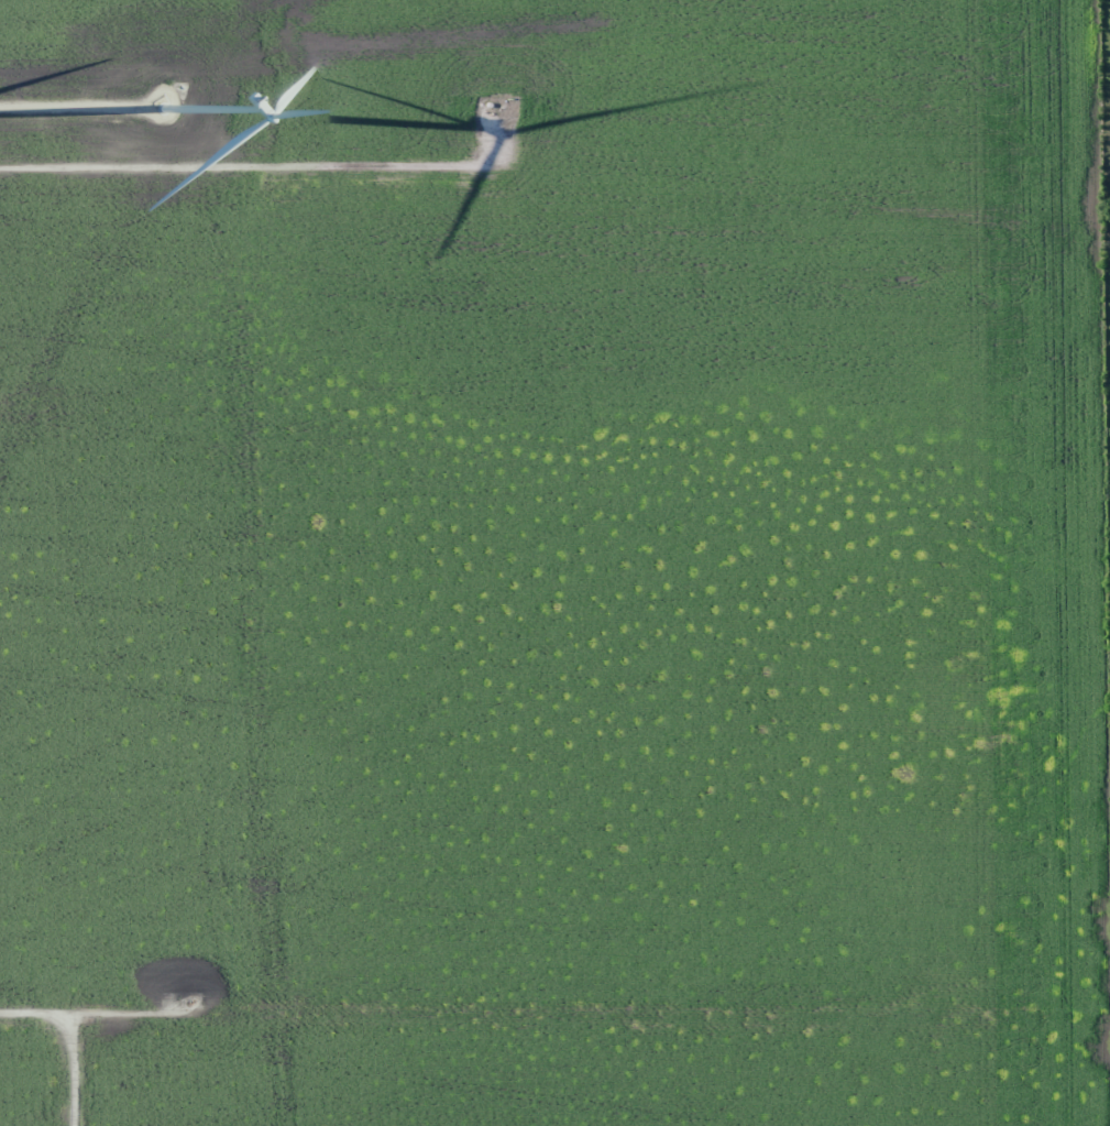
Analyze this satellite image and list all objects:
wind turbine: (161, 105)
road: (140, 196)
road: (554, 1035)
road: (74, 1080)

